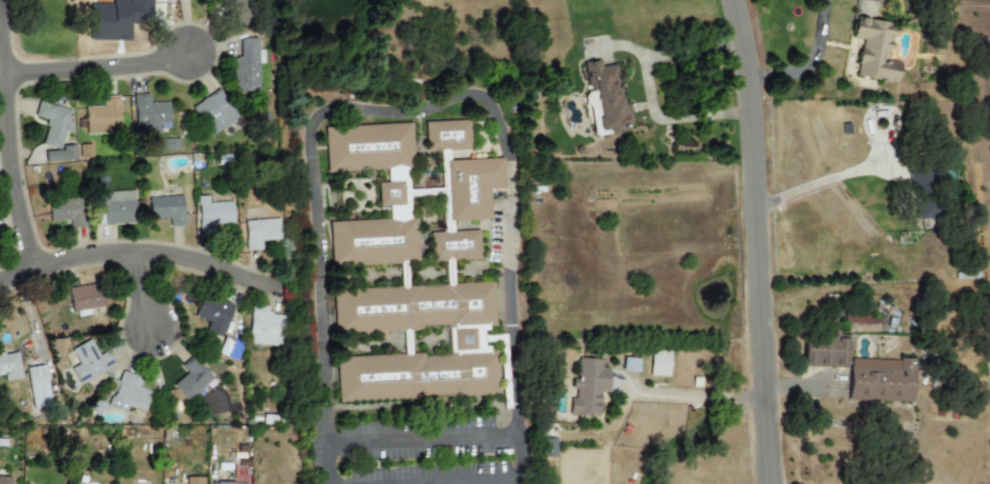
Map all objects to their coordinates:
building: (117, 19)
building: (874, 50)
road: (96, 61)
road: (805, 63)
building: (246, 65)
road: (648, 89)
building: (606, 97)
road: (408, 110)
building: (214, 112)
building: (149, 114)
building: (102, 117)
building: (53, 123)
building: (447, 136)
road: (9, 140)
building: (60, 154)
road: (814, 183)
building: (471, 187)
building: (923, 198)
building: (117, 207)
building: (166, 210)
building: (67, 212)
building: (212, 214)
building: (260, 232)
road: (755, 241)
road: (143, 248)
road: (136, 287)
building: (85, 298)
building: (213, 314)
building: (858, 323)
building: (264, 327)
building: (824, 351)
building: (88, 361)
building: (659, 363)
building: (629, 365)
building: (9, 367)
building: (191, 378)
building: (880, 380)
building: (588, 385)
building: (37, 386)
road: (694, 393)
road: (795, 393)
building: (128, 394)
road: (427, 440)
road: (906, 461)
building: (196, 480)
building: (6, 481)
building: (230, 483)
road: (509, 483)
road: (522, 483)

